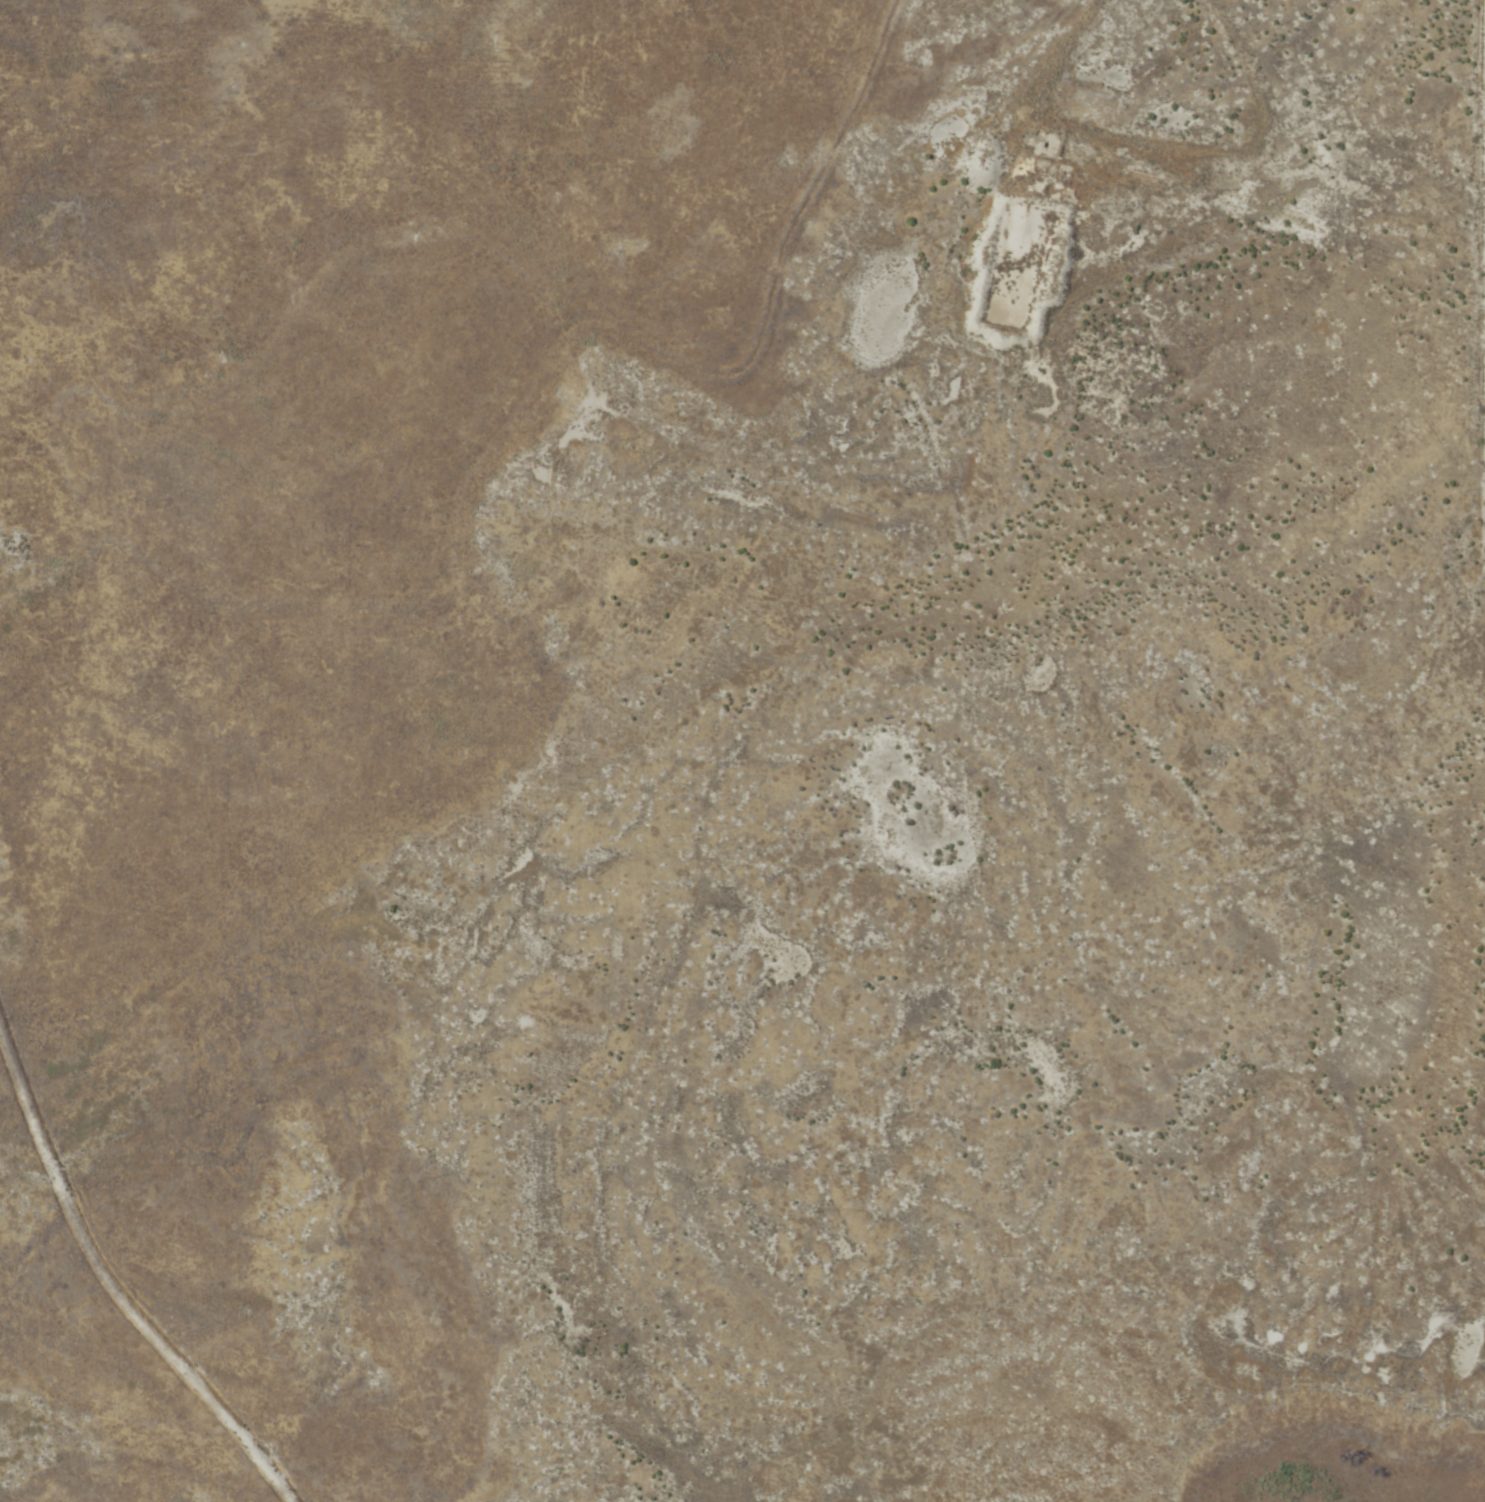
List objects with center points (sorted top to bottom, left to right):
road: (1252, 13)
road: (1245, 257)
wastewater plant: (1054, 417)

